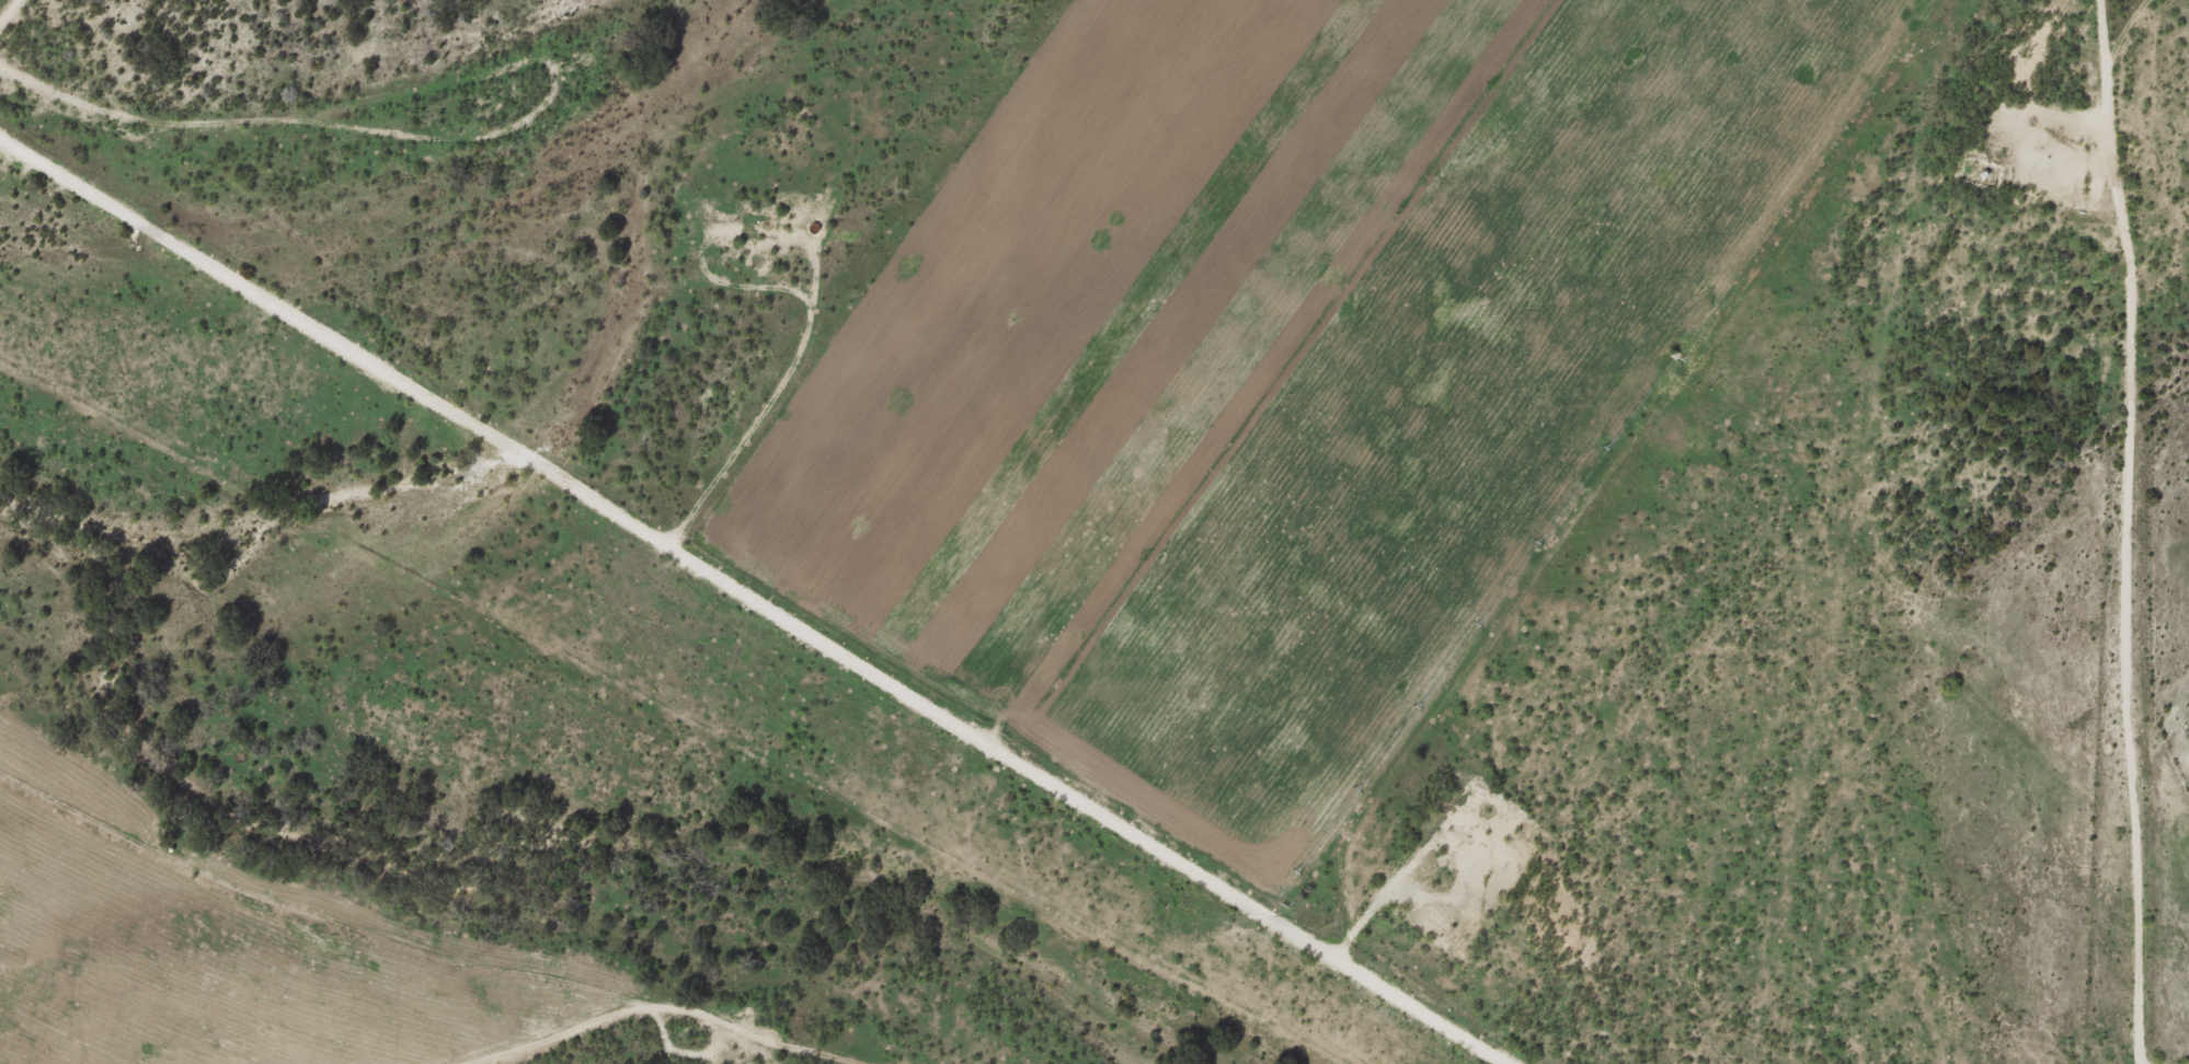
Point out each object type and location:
road: (5, 13)
road: (256, 120)
road: (763, 587)
road: (2157, 905)

